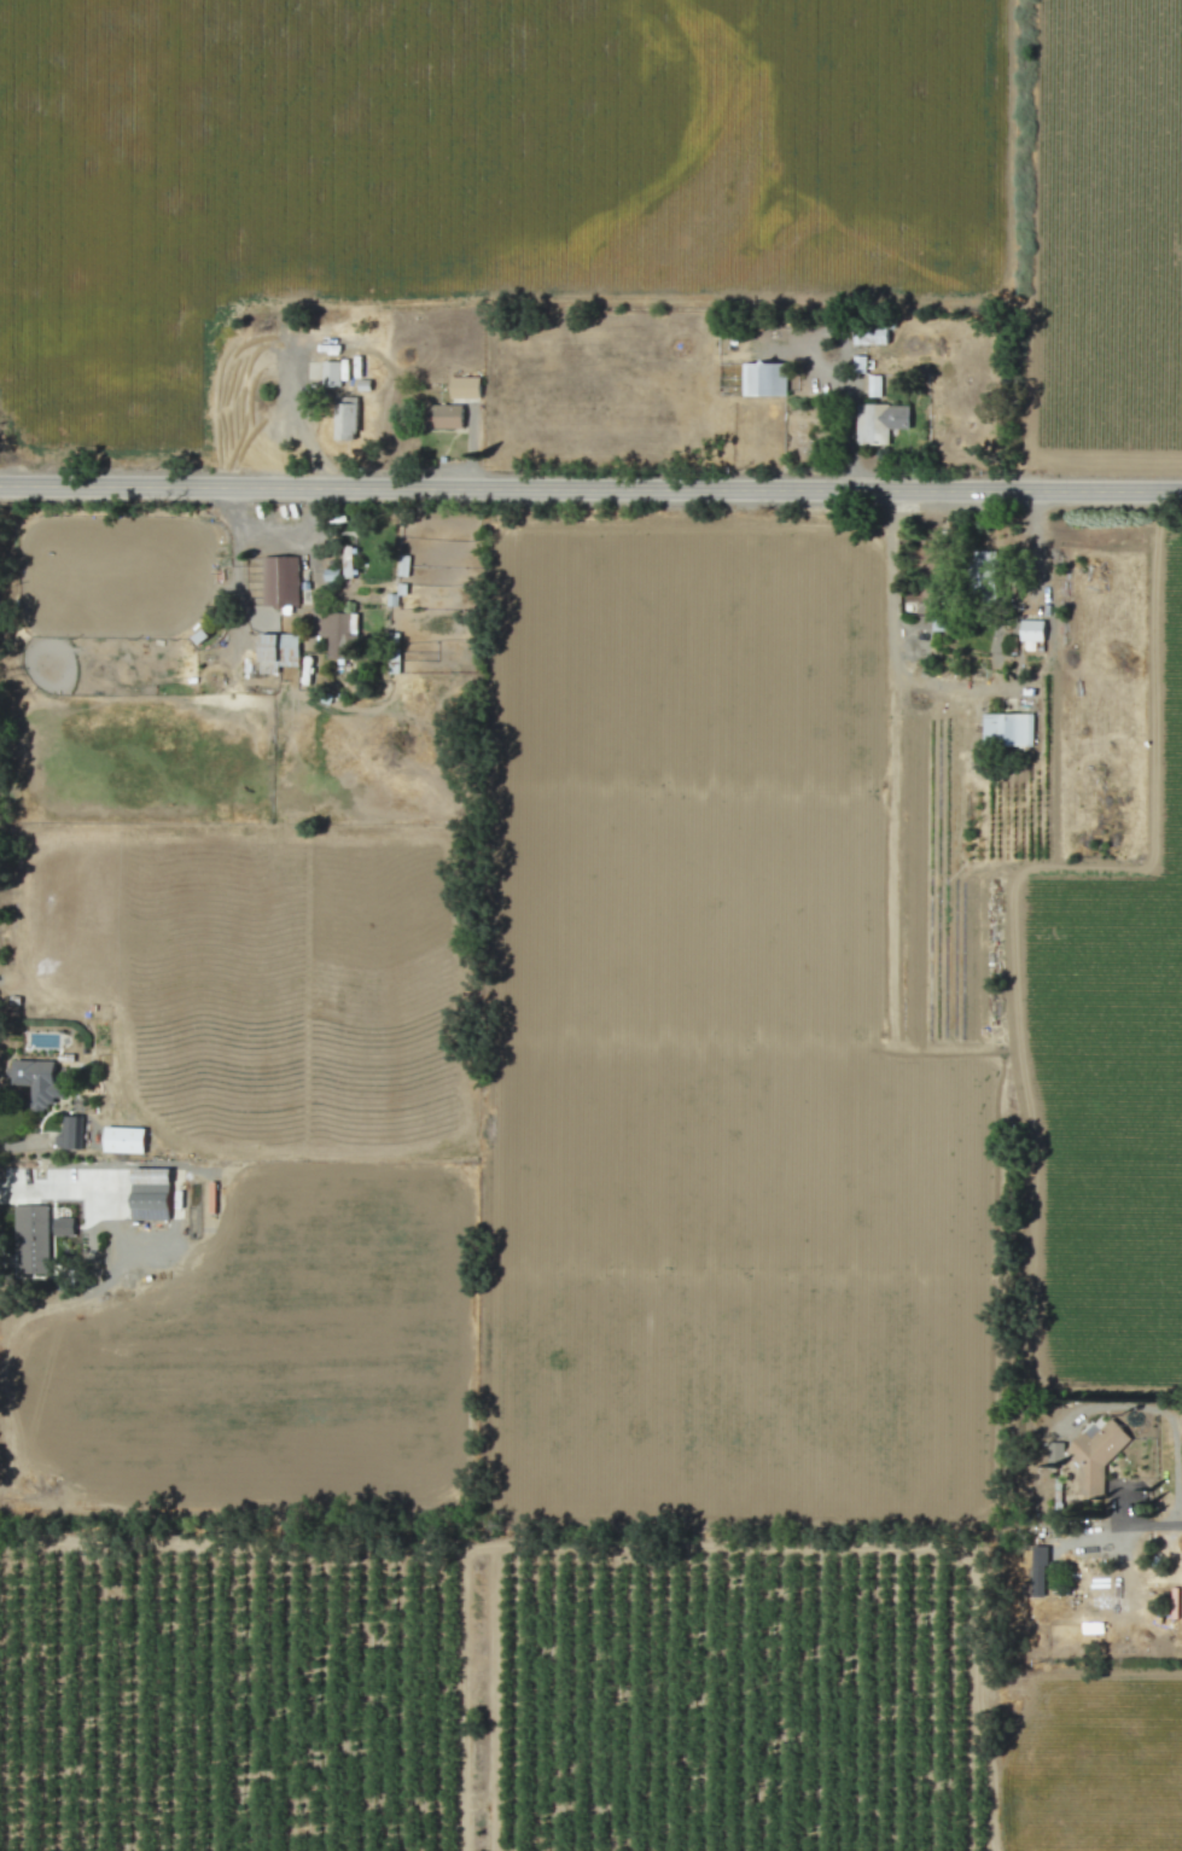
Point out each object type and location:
building: (871, 334)
building: (331, 373)
building: (763, 379)
building: (873, 386)
building: (465, 388)
road: (848, 407)
road: (278, 417)
building: (443, 417)
building: (345, 418)
building: (879, 423)
road: (590, 487)
road: (248, 531)
building: (984, 572)
building: (280, 581)
road: (235, 593)
building: (1031, 630)
building: (337, 634)
building: (276, 652)
road: (972, 687)
building: (1007, 729)
building: (37, 1082)
building: (70, 1134)
building: (123, 1140)
road: (59, 1189)
building: (150, 1194)
building: (31, 1239)
building: (1054, 1454)
building: (1095, 1454)
road: (1139, 1524)
crop: (1087, 1756)

